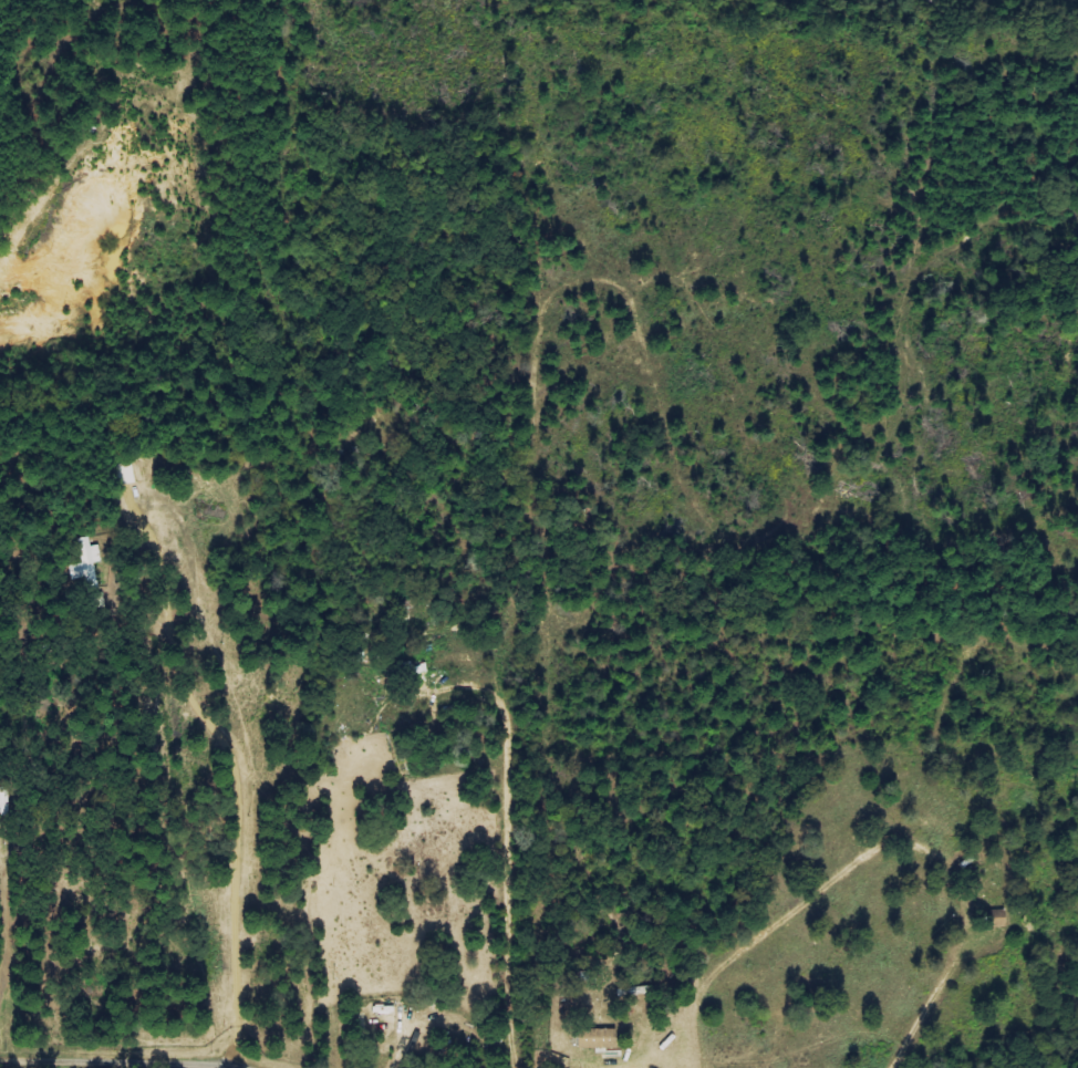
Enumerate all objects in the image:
building: (138, 474)
building: (124, 475)
building: (85, 564)
building: (994, 919)
building: (594, 1039)
road: (121, 1060)

